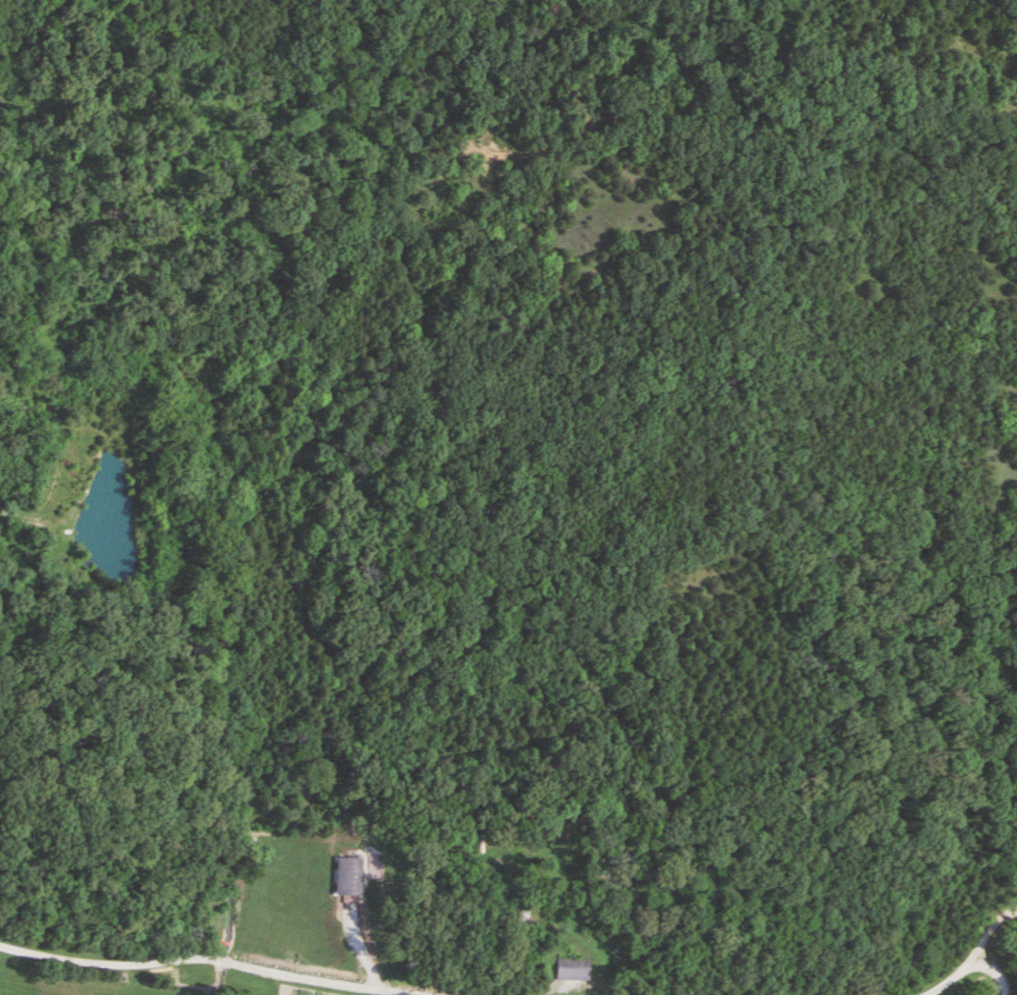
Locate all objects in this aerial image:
road: (976, 951)
building: (573, 969)
road: (222, 970)
road: (990, 973)

